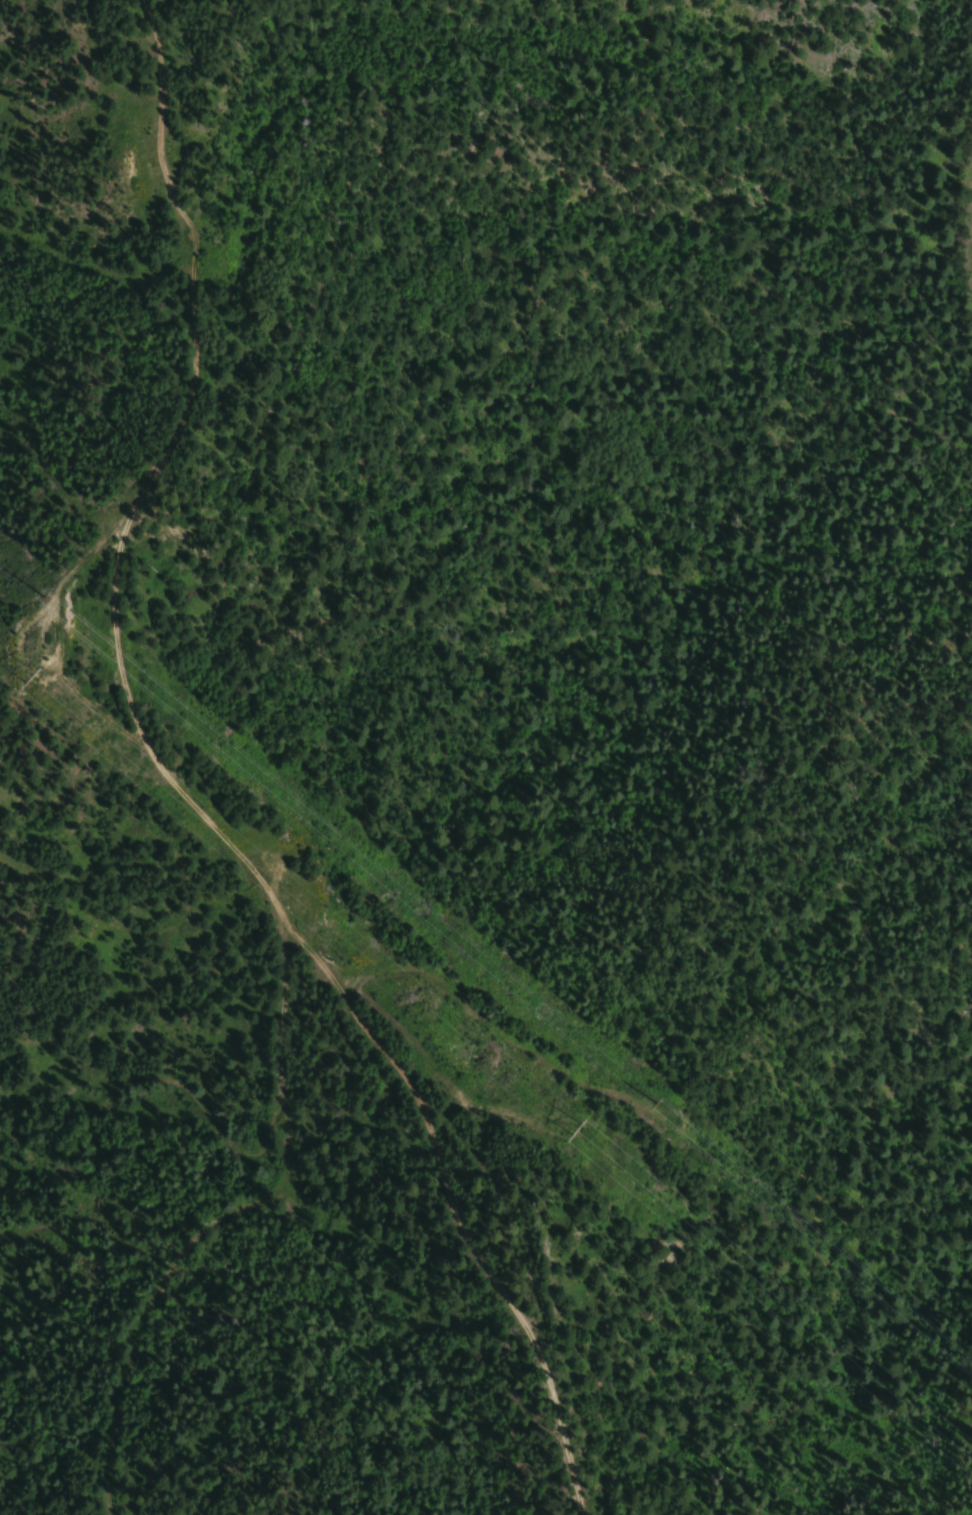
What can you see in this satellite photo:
power tower: (27, 677)
power tower: (576, 1123)

